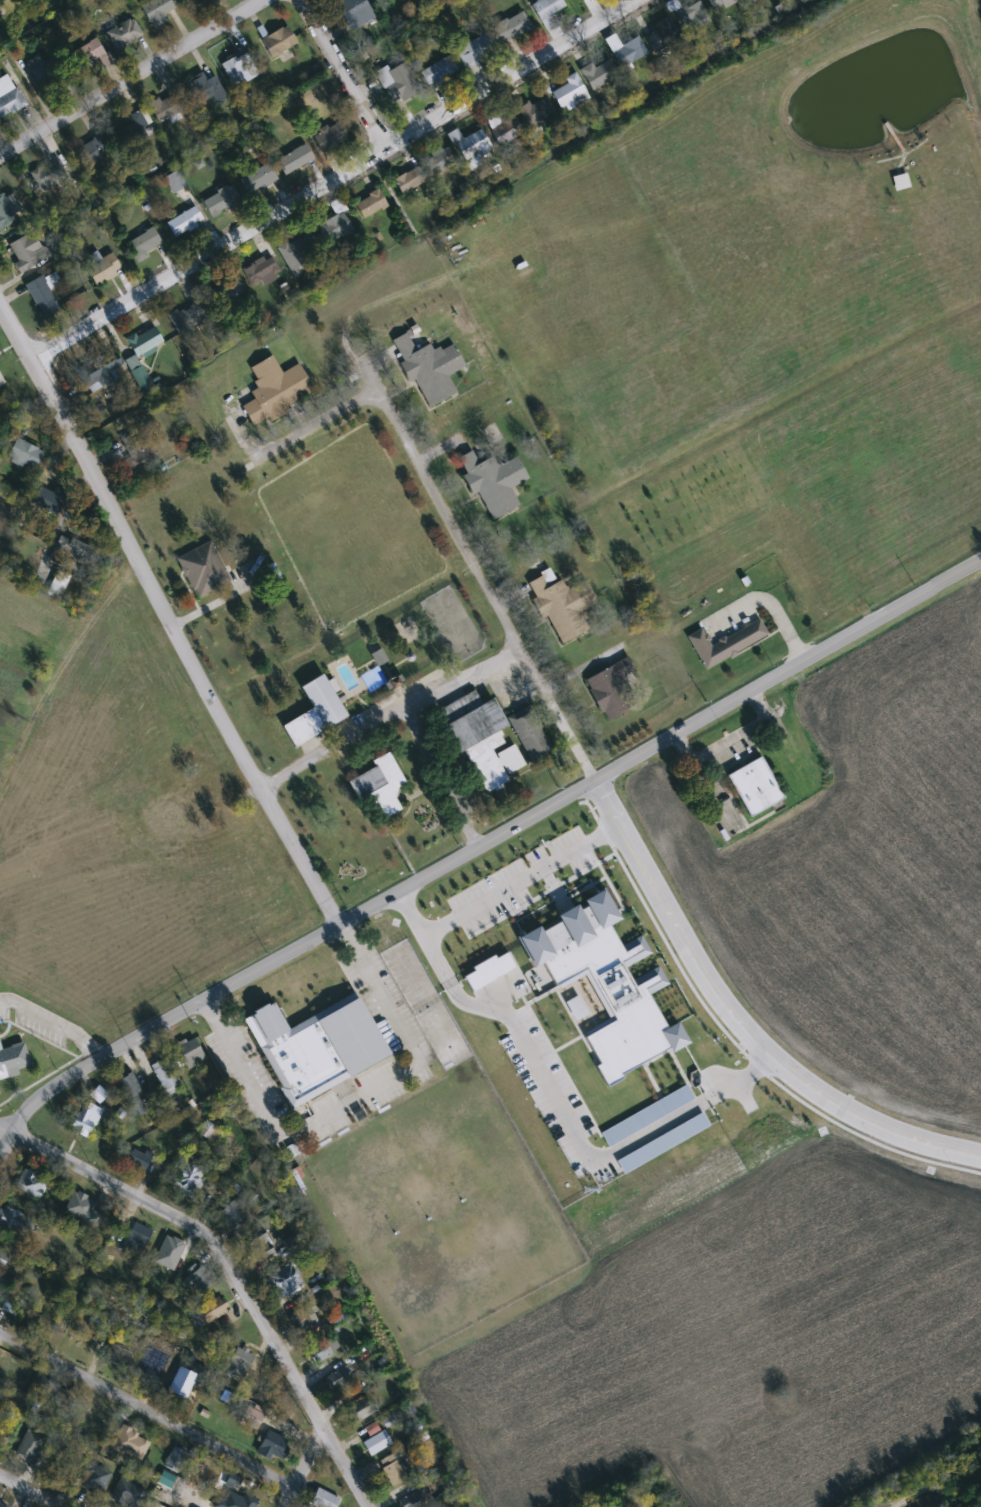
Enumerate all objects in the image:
building: (191, 2)
building: (723, 4)
building: (354, 12)
building: (547, 12)
building: (692, 12)
building: (512, 28)
building: (128, 31)
building: (662, 34)
building: (279, 41)
building: (475, 50)
building: (91, 51)
building: (629, 53)
building: (50, 68)
building: (240, 69)
road: (350, 71)
building: (439, 71)
building: (599, 73)
road: (131, 77)
building: (403, 82)
building: (205, 89)
building: (570, 92)
building: (9, 96)
building: (167, 106)
building: (537, 111)
building: (137, 127)
building: (506, 129)
building: (330, 136)
building: (471, 147)
building: (95, 150)
building: (296, 159)
building: (440, 160)
building: (49, 174)
building: (257, 178)
building: (411, 178)
road: (331, 179)
building: (175, 181)
building: (221, 200)
building: (370, 204)
building: (9, 211)
building: (185, 222)
building: (330, 231)
building: (144, 244)
building: (28, 251)
building: (294, 258)
building: (105, 269)
building: (260, 270)
building: (226, 290)
building: (43, 296)
building: (189, 316)
building: (145, 341)
building: (427, 365)
building: (96, 373)
building: (141, 378)
building: (1, 381)
building: (272, 387)
road: (282, 444)
building: (135, 450)
building: (24, 454)
building: (490, 478)
building: (48, 500)
building: (201, 566)
road: (475, 569)
building: (58, 585)
building: (560, 603)
road: (768, 603)
road: (167, 619)
park: (449, 621)
building: (722, 640)
building: (607, 685)
building: (313, 710)
road: (390, 718)
building: (527, 731)
building: (479, 735)
road: (442, 780)
building: (377, 781)
building: (753, 784)
road: (483, 848)
parking lot: (518, 878)
road: (520, 880)
building: (488, 968)
building: (604, 979)
parking lot: (383, 1001)
parking lot: (3, 1004)
road: (55, 1021)
road: (741, 1021)
parking lot: (38, 1026)
park: (440, 1032)
building: (314, 1044)
building: (190, 1053)
building: (12, 1057)
parking lot: (243, 1073)
building: (166, 1076)
building: (131, 1096)
parking lot: (359, 1096)
road: (349, 1099)
road: (556, 1102)
building: (85, 1119)
building: (141, 1159)
building: (160, 1167)
building: (189, 1177)
building: (30, 1184)
building: (83, 1208)
building: (234, 1212)
building: (15, 1222)
building: (137, 1238)
building: (259, 1247)
building: (3, 1258)
road: (229, 1269)
building: (200, 1279)
building: (286, 1279)
building: (11, 1304)
building: (212, 1310)
building: (305, 1323)
building: (321, 1352)
building: (238, 1363)
building: (186, 1378)
building: (337, 1379)
building: (227, 1398)
road: (148, 1410)
building: (360, 1410)
building: (96, 1415)
building: (252, 1417)
building: (377, 1443)
building: (272, 1445)
building: (29, 1446)
building: (174, 1460)
road: (304, 1467)
building: (392, 1470)
building: (58, 1473)
building: (95, 1477)
road: (32, 1490)
building: (126, 1493)
building: (323, 1499)
building: (416, 1499)
building: (244, 1501)
building: (2, 1505)

